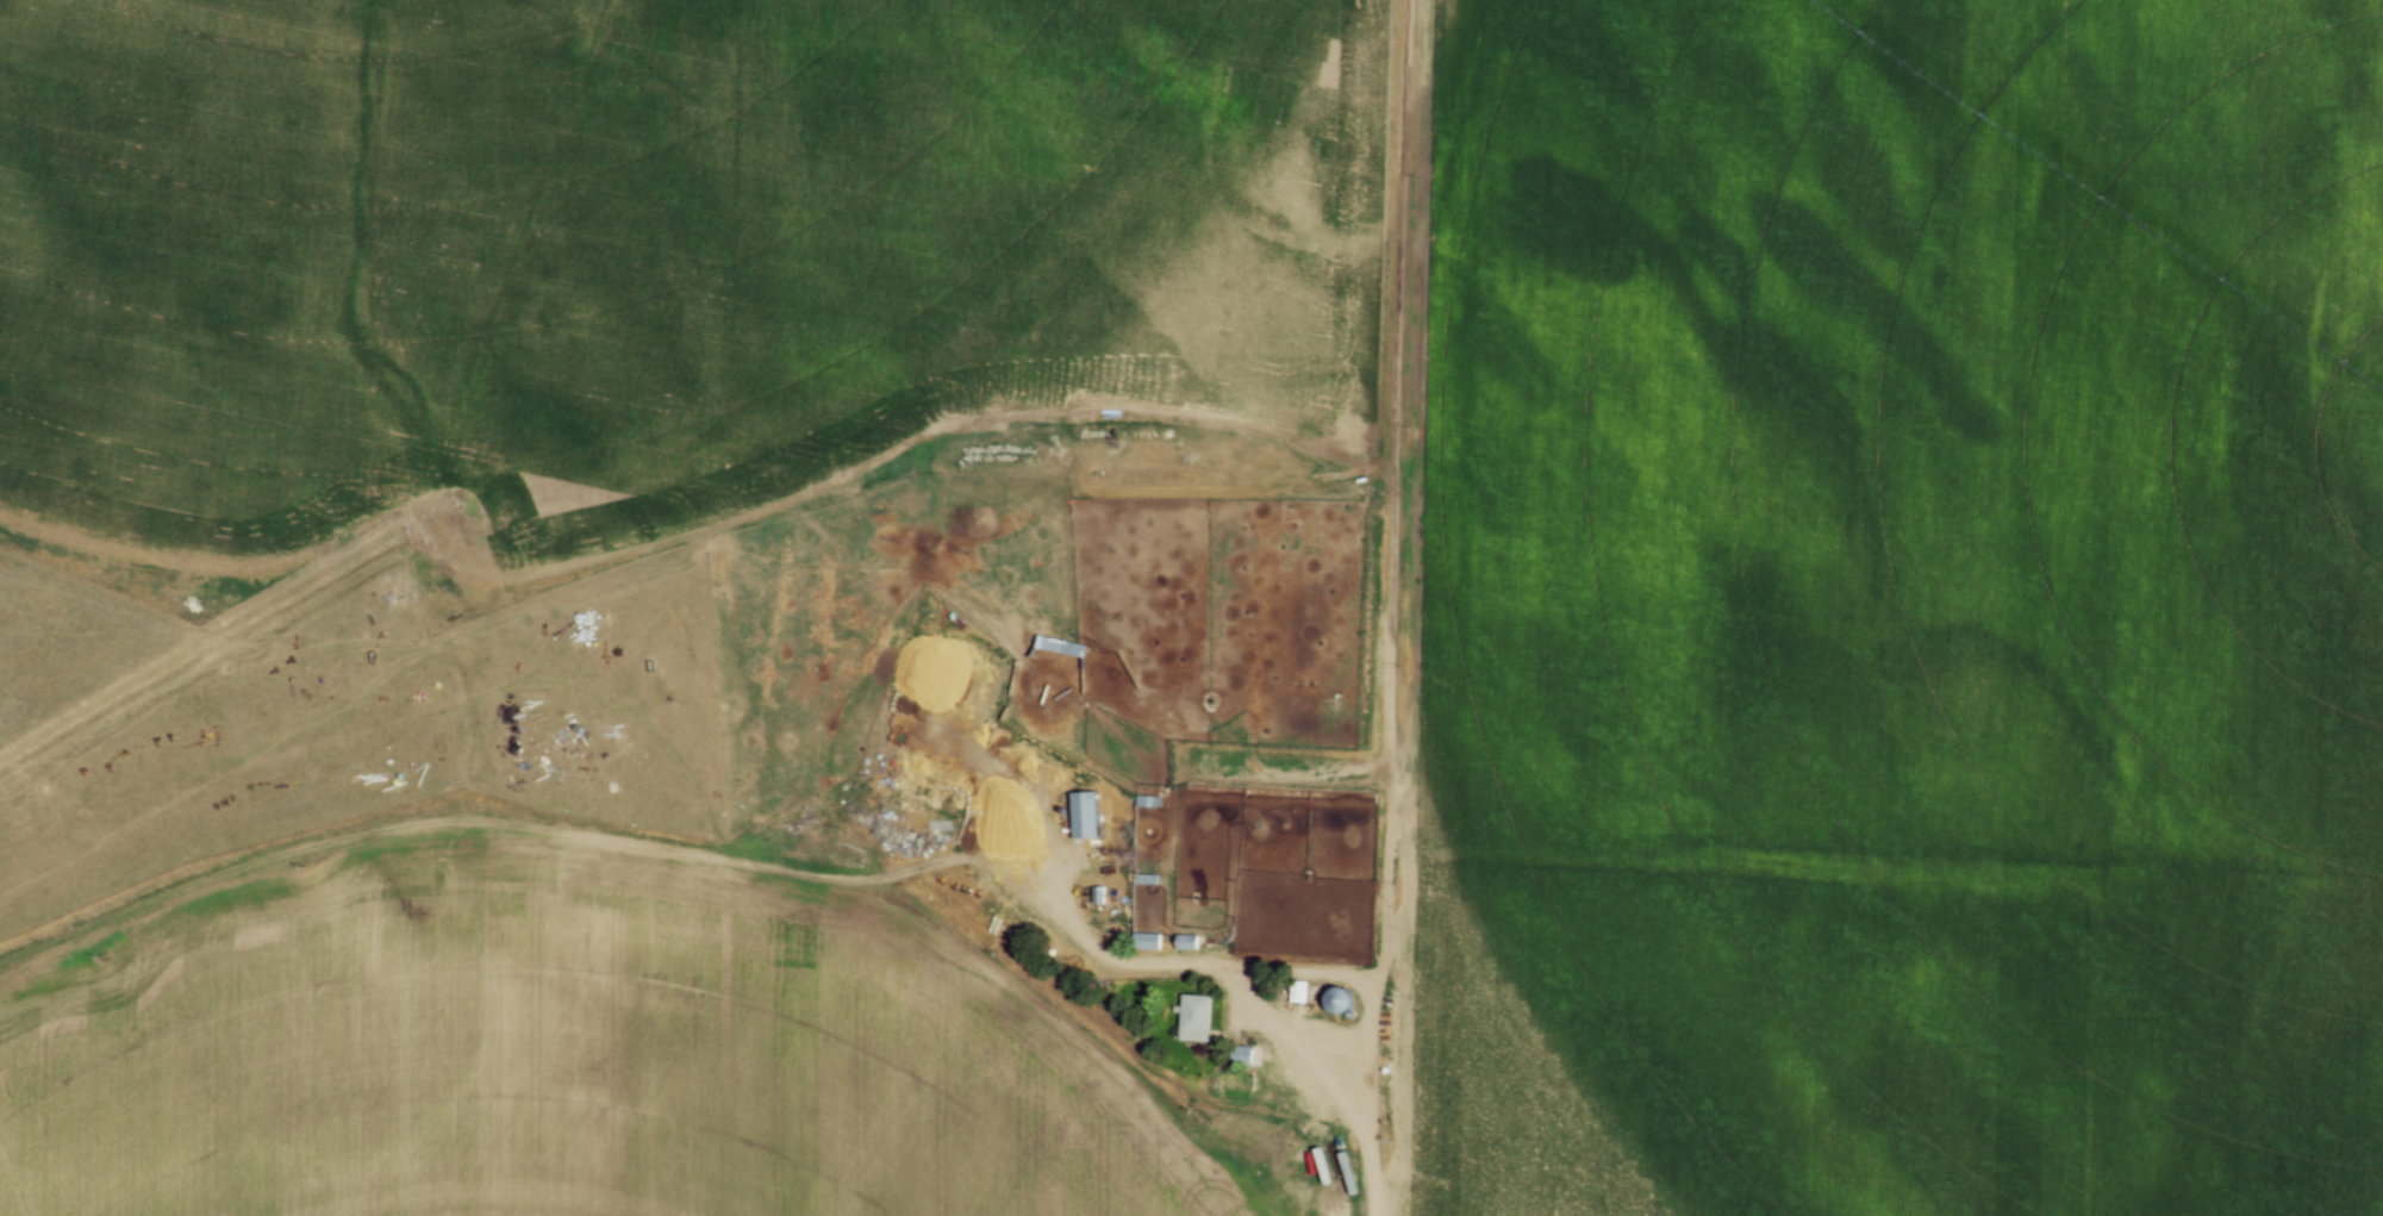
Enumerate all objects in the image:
crop: (645, 241)
crop: (1895, 609)
building: (1040, 685)
building: (1033, 691)
building: (1135, 804)
building: (1086, 812)
building: (1073, 815)
building: (1134, 881)
building: (1085, 898)
building: (1147, 940)
building: (1136, 943)
building: (1174, 943)
road: (1208, 969)
building: (1287, 993)
building: (1330, 1002)
silo: (1330, 1002)
building: (1185, 1019)
crop: (542, 1058)
road: (1360, 1172)

